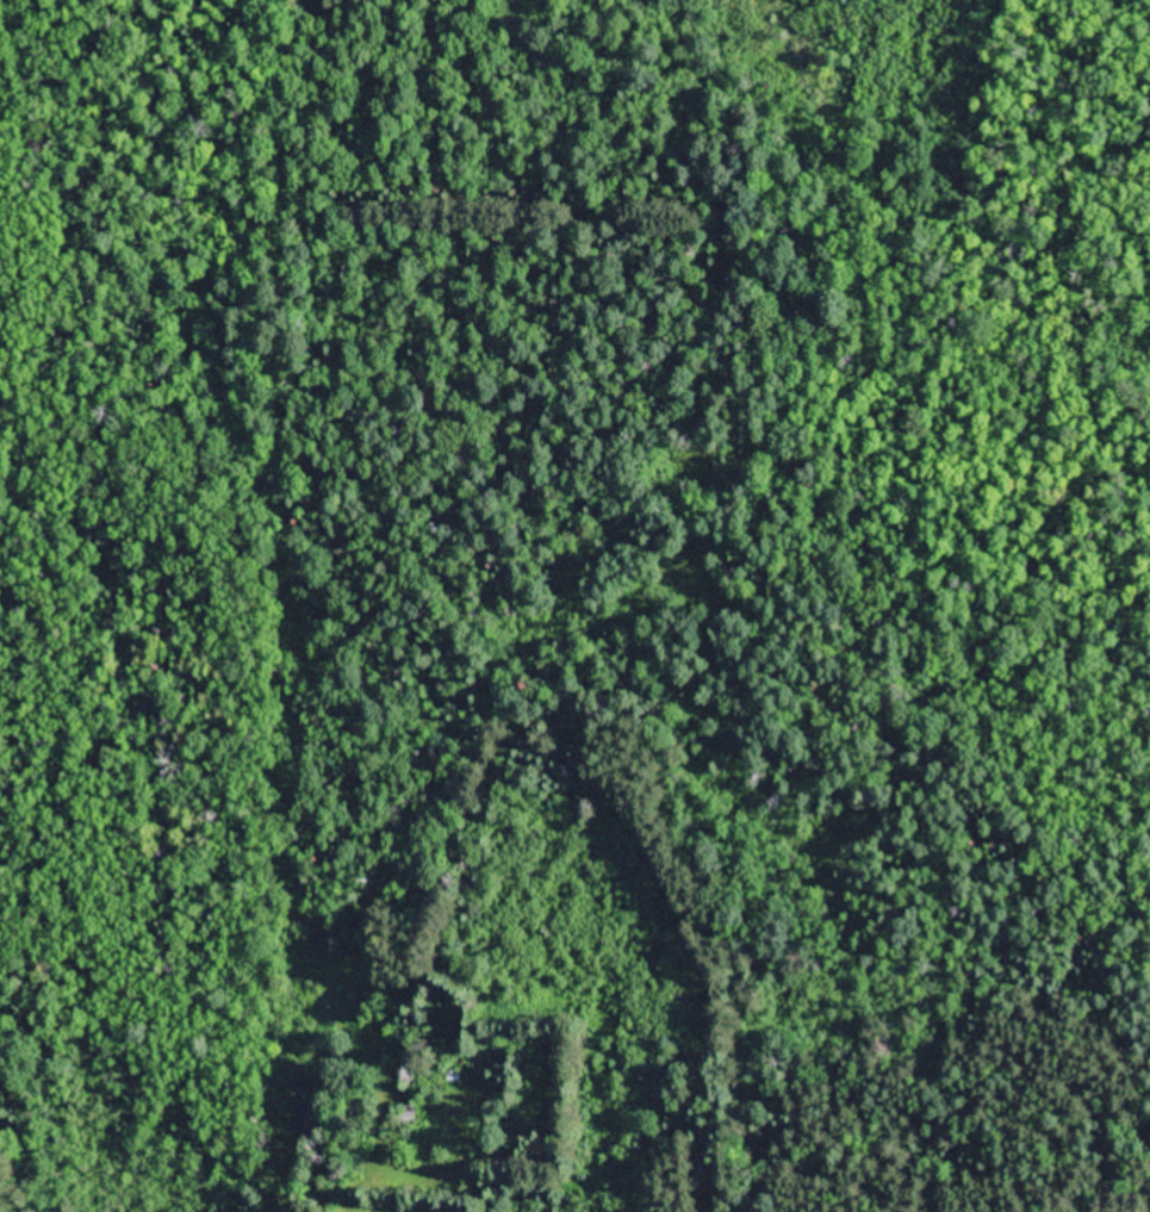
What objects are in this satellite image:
building: (404, 1115)

